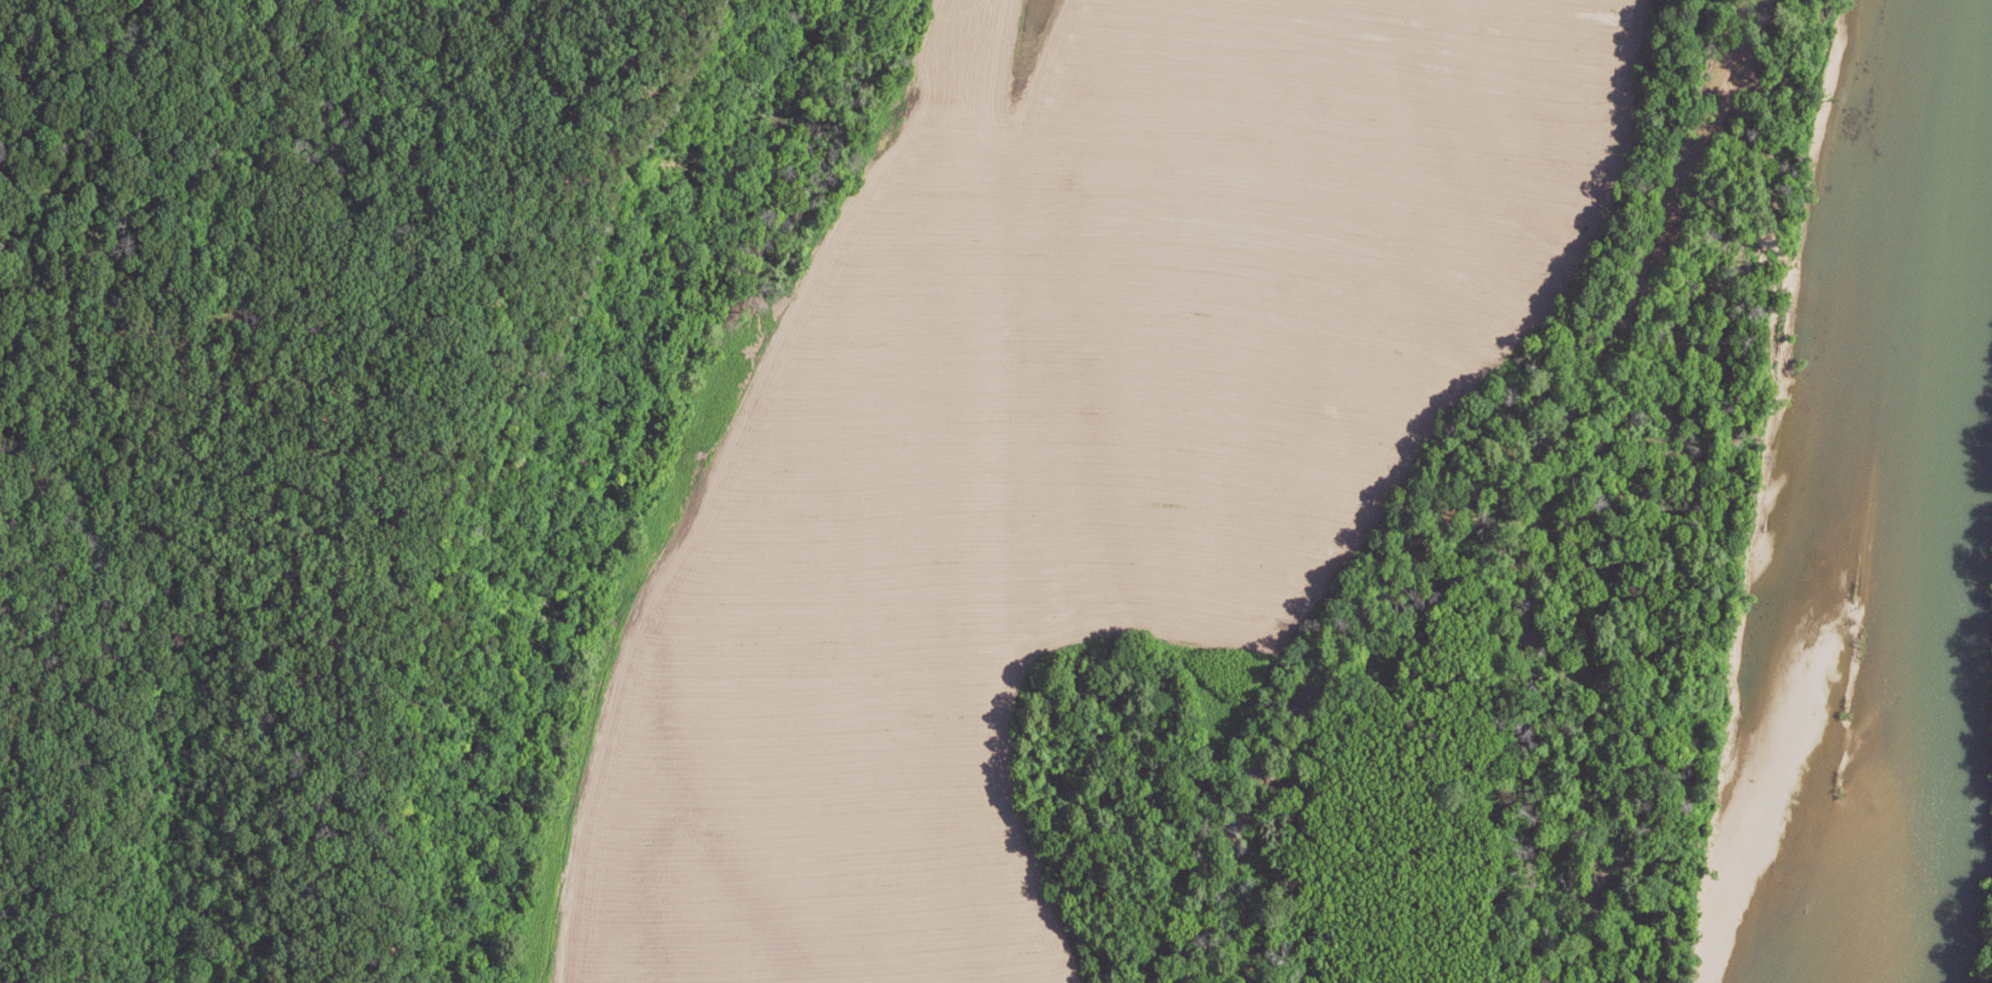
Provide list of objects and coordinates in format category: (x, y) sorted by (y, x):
river: (1942, 542)

